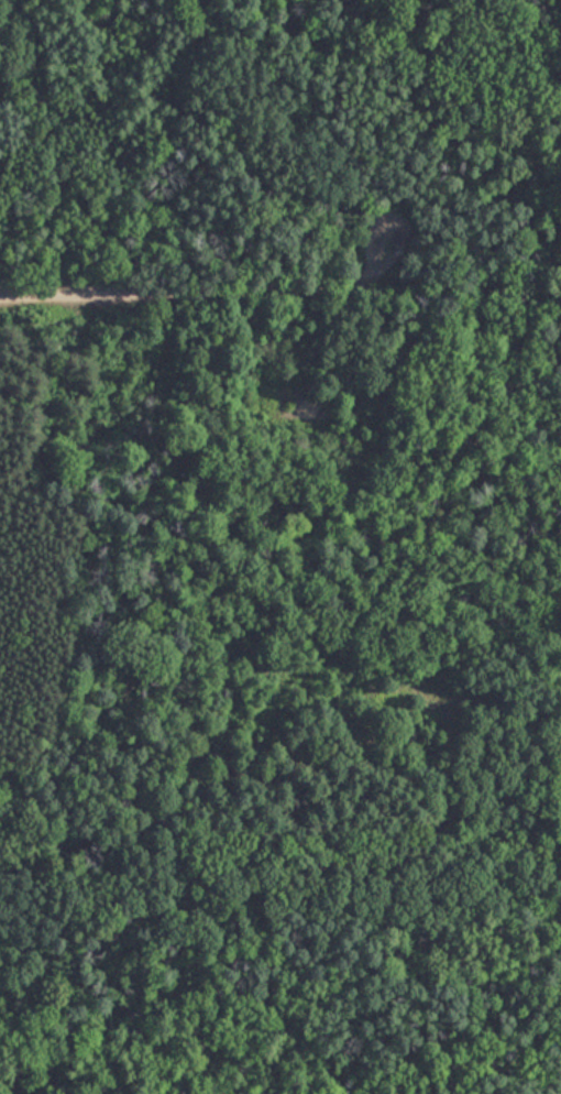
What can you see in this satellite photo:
road: (200, 289)
park: (280, 547)

